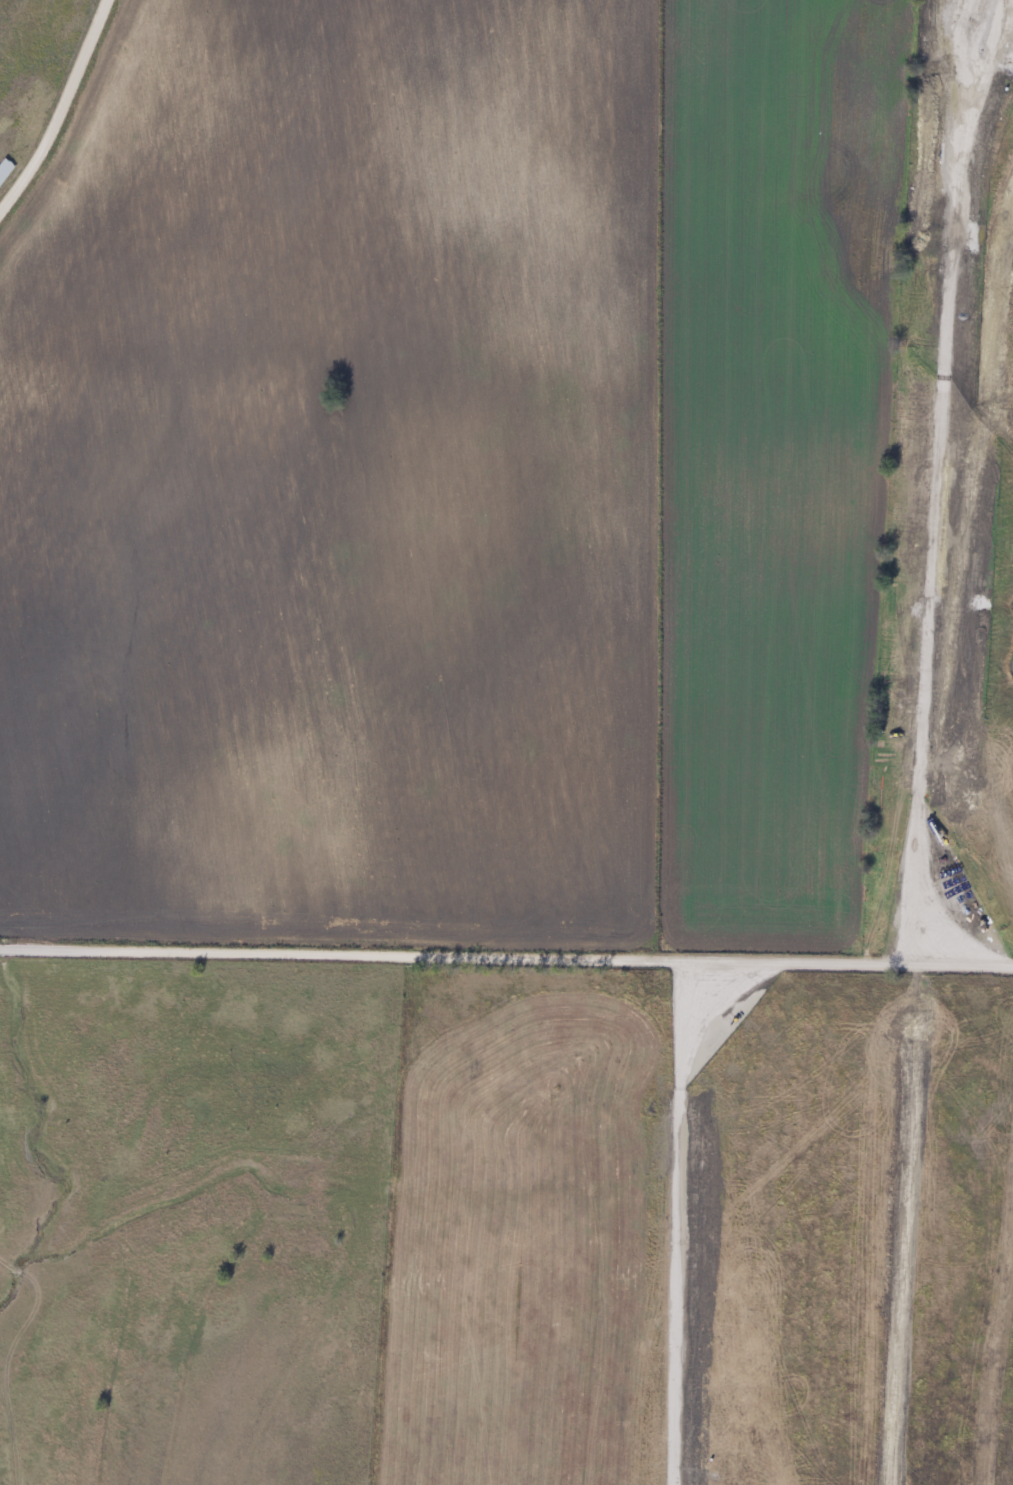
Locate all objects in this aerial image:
road: (62, 102)
building: (4, 168)
road: (506, 952)

